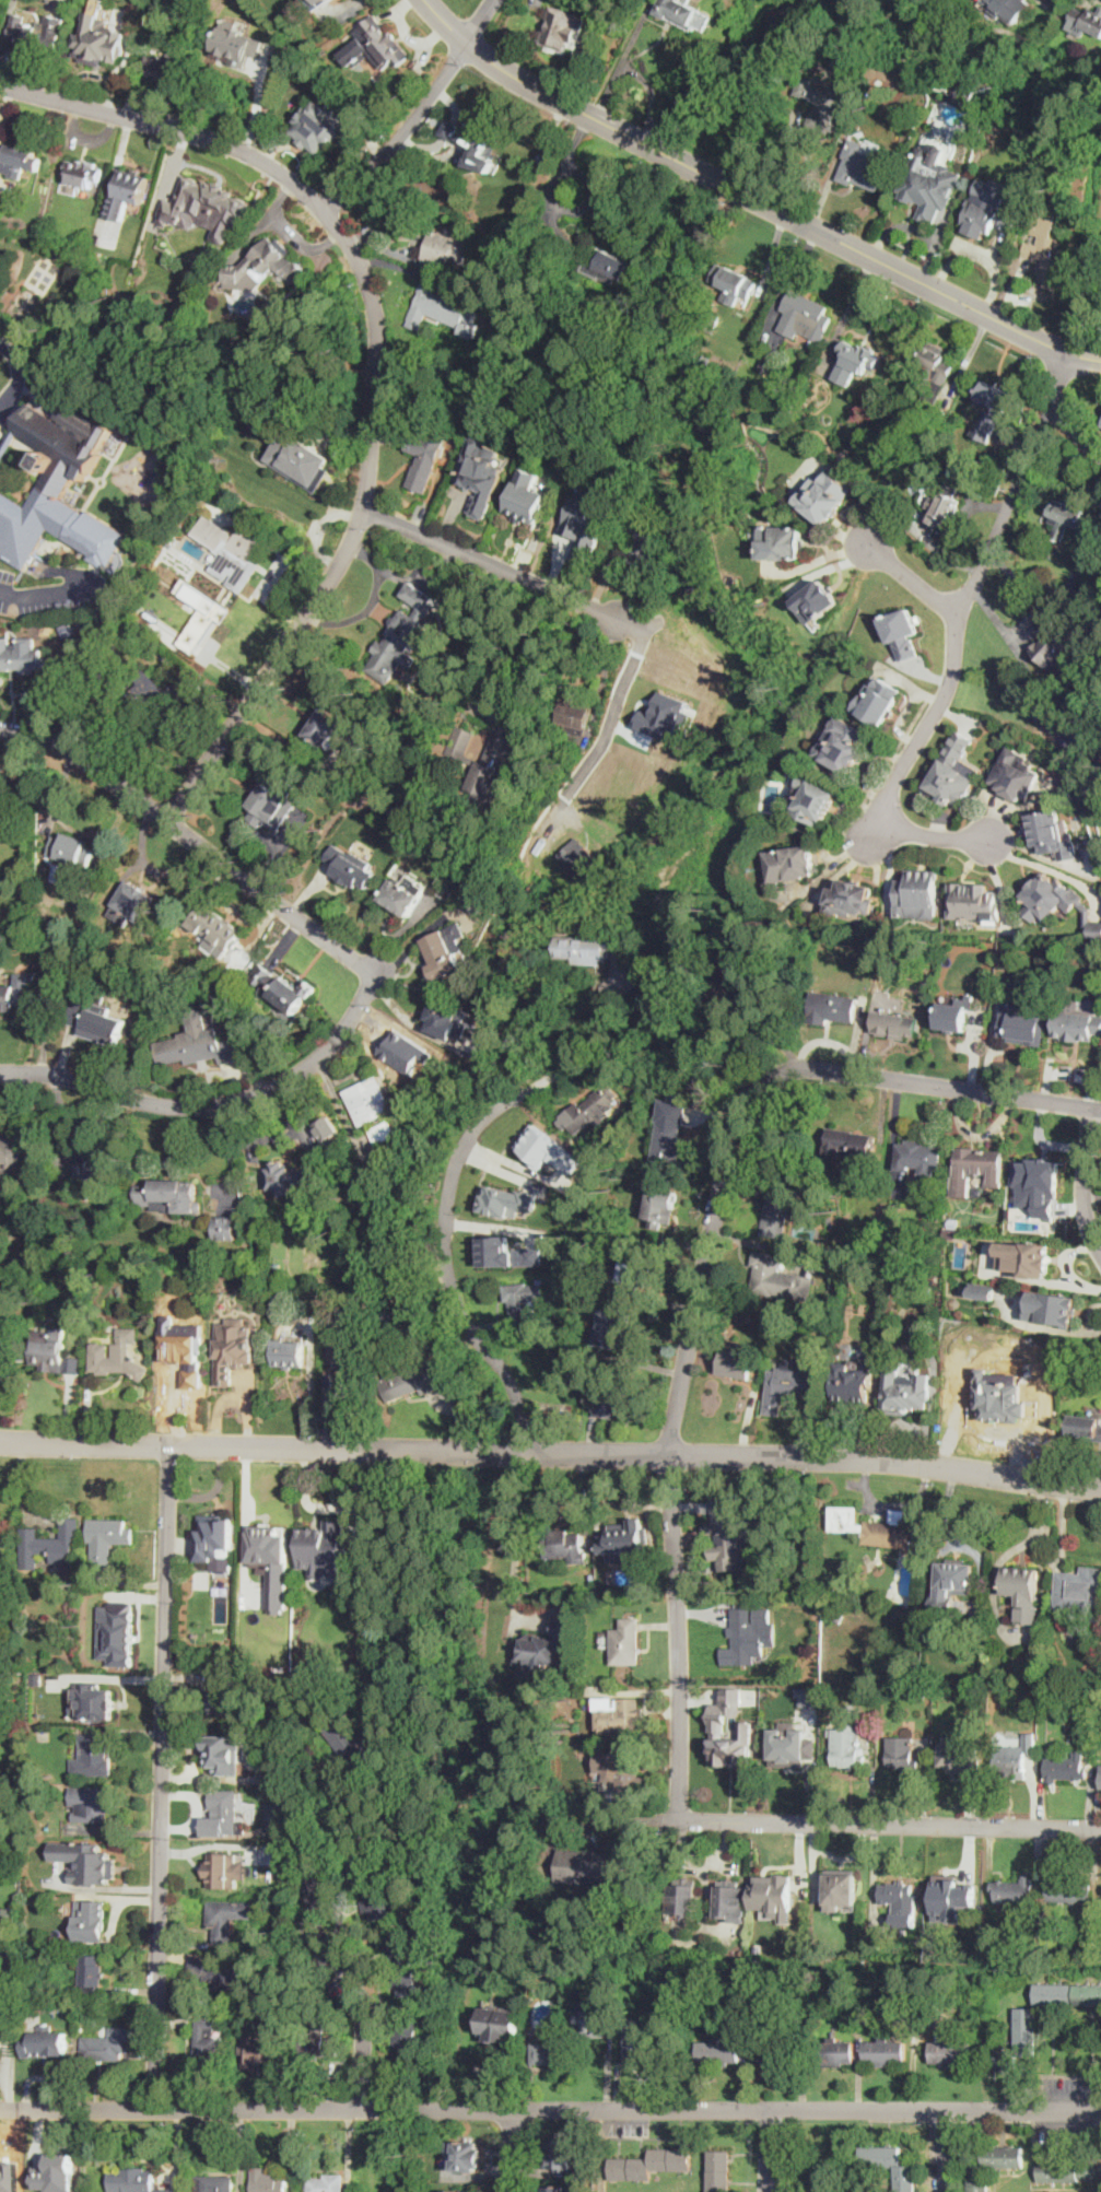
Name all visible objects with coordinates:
building: (0, 0)
building: (316, 3)
building: (1012, 8)
building: (683, 13)
building: (1086, 21)
road: (445, 22)
road: (480, 22)
building: (562, 27)
building: (863, 32)
building: (37, 35)
building: (242, 44)
building: (375, 46)
building: (93, 54)
building: (157, 71)
road: (616, 73)
road: (653, 96)
building: (959, 98)
building: (820, 103)
building: (319, 129)
road: (399, 131)
building: (472, 139)
building: (19, 160)
road: (793, 164)
building: (864, 166)
building: (83, 173)
road: (559, 177)
building: (929, 181)
building: (129, 195)
road: (593, 197)
road: (778, 212)
building: (981, 213)
building: (211, 218)
building: (1007, 223)
building: (1046, 248)
building: (448, 249)
building: (207, 263)
building: (266, 263)
building: (606, 266)
road: (790, 277)
building: (477, 281)
building: (733, 283)
building: (31, 295)
building: (446, 312)
road: (848, 312)
building: (804, 315)
building: (493, 316)
building: (714, 320)
building: (502, 330)
road: (379, 361)
building: (769, 361)
building: (705, 362)
building: (855, 362)
building: (804, 364)
building: (930, 368)
road: (17, 374)
building: (788, 374)
building: (989, 411)
road: (1061, 411)
building: (913, 417)
building: (174, 448)
building: (301, 458)
building: (425, 459)
building: (480, 472)
building: (47, 480)
building: (526, 495)
building: (824, 497)
building: (944, 506)
building: (586, 523)
building: (1074, 524)
building: (644, 541)
building: (782, 543)
building: (238, 560)
road: (910, 578)
road: (1035, 584)
road: (5, 594)
building: (817, 600)
building: (61, 605)
building: (70, 605)
road: (960, 607)
road: (593, 608)
building: (201, 612)
building: (81, 622)
road: (92, 628)
building: (139, 631)
building: (405, 631)
building: (901, 632)
building: (1057, 643)
road: (531, 649)
building: (14, 656)
road: (1027, 668)
building: (156, 692)
building: (878, 701)
building: (427, 712)
building: (574, 715)
building: (665, 716)
road: (911, 725)
building: (326, 729)
building: (1088, 741)
building: (844, 745)
building: (487, 762)
building: (953, 771)
building: (1085, 771)
building: (1017, 773)
building: (815, 799)
building: (273, 804)
building: (1054, 834)
road: (938, 835)
road: (192, 839)
building: (72, 849)
building: (792, 864)
building: (584, 866)
building: (350, 867)
road: (1051, 869)
building: (536, 891)
building: (918, 893)
building: (401, 898)
building: (851, 899)
building: (479, 900)
building: (974, 902)
building: (1057, 902)
building: (131, 903)
building: (215, 929)
building: (585, 948)
building: (442, 953)
building: (281, 988)
building: (733, 989)
building: (14, 997)
building: (832, 1008)
building: (954, 1012)
building: (95, 1021)
building: (444, 1021)
building: (897, 1025)
building: (1077, 1025)
building: (1021, 1027)
building: (196, 1047)
road: (212, 1102)
building: (374, 1109)
building: (590, 1110)
building: (669, 1132)
building: (851, 1142)
building: (548, 1149)
road: (229, 1152)
building: (12, 1156)
building: (917, 1158)
building: (841, 1167)
building: (975, 1168)
building: (97, 1170)
building: (378, 1173)
building: (327, 1174)
building: (288, 1177)
road: (1084, 1177)
building: (1038, 1185)
building: (167, 1192)
building: (506, 1200)
building: (360, 1205)
building: (658, 1208)
road: (442, 1214)
building: (776, 1215)
building: (960, 1218)
building: (227, 1227)
building: (951, 1234)
building: (506, 1253)
building: (1026, 1257)
building: (635, 1271)
building: (906, 1274)
road: (702, 1279)
building: (778, 1279)
building: (984, 1290)
building: (523, 1303)
building: (1052, 1308)
building: (387, 1318)
building: (610, 1325)
building: (344, 1347)
building: (1, 1348)
building: (51, 1352)
building: (289, 1355)
building: (118, 1357)
building: (235, 1361)
building: (733, 1363)
building: (178, 1365)
building: (1075, 1376)
building: (408, 1381)
building: (790, 1383)
building: (852, 1383)
building: (905, 1391)
building: (611, 1402)
building: (1086, 1427)
road: (551, 1454)
road: (246, 1507)
building: (880, 1531)
building: (727, 1535)
building: (108, 1537)
building: (215, 1537)
road: (518, 1538)
building: (625, 1542)
building: (271, 1545)
building: (325, 1546)
building: (54, 1547)
building: (566, 1547)
building: (592, 1576)
building: (952, 1586)
building: (1078, 1589)
building: (1022, 1592)
building: (1097, 1615)
building: (112, 1633)
building: (748, 1634)
building: (624, 1642)
building: (547, 1644)
building: (10, 1685)
building: (865, 1691)
building: (922, 1695)
building: (809, 1696)
building: (98, 1700)
building: (227, 1701)
building: (994, 1701)
building: (4, 1703)
building: (618, 1714)
building: (716, 1726)
building: (353, 1745)
building: (788, 1745)
building: (847, 1746)
building: (230, 1751)
building: (902, 1754)
building: (961, 1756)
building: (93, 1757)
building: (1014, 1759)
building: (1066, 1768)
building: (621, 1770)
road: (164, 1778)
building: (1100, 1784)
building: (598, 1789)
building: (34, 1792)
building: (93, 1805)
building: (225, 1814)
road: (892, 1826)
building: (2, 1832)
building: (345, 1832)
road: (213, 1844)
building: (221, 1865)
building: (90, 1866)
building: (589, 1868)
building: (35, 1879)
building: (375, 1888)
building: (279, 1889)
building: (842, 1889)
building: (1067, 1890)
building: (1012, 1891)
building: (773, 1897)
building: (682, 1898)
building: (951, 1898)
building: (733, 1900)
building: (901, 1902)
building: (10, 1916)
building: (227, 1918)
building: (91, 1921)
building: (23, 1939)
road: (323, 1944)
building: (1012, 1957)
building: (9, 1965)
building: (405, 1965)
building: (92, 1972)
building: (231, 1973)
building: (554, 1978)
building: (1067, 1993)
building: (3, 1994)
building: (282, 2017)
building: (593, 2017)
building: (500, 2025)
building: (407, 2033)
road: (361, 2036)
building: (1018, 2039)
building: (45, 2043)
building: (207, 2044)
building: (318, 2044)
building: (107, 2046)
building: (640, 2048)
building: (263, 2049)
building: (551, 2051)
building: (718, 2052)
building: (774, 2052)
building: (834, 2052)
building: (885, 2052)
building: (951, 2053)
road: (550, 2110)
road: (508, 2150)
road: (770, 2150)
road: (944, 2150)
building: (559, 2155)
building: (467, 2156)
road: (781, 2156)
building: (651, 2165)
building: (993, 2165)
building: (1068, 2169)
building: (718, 2171)
building: (57, 2173)
building: (905, 2178)
building: (132, 2180)
building: (268, 2181)
building: (22, 2182)
building: (216, 2183)
building: (327, 2183)
building: (561, 2190)
building: (455, 2191)
building: (811, 2191)

